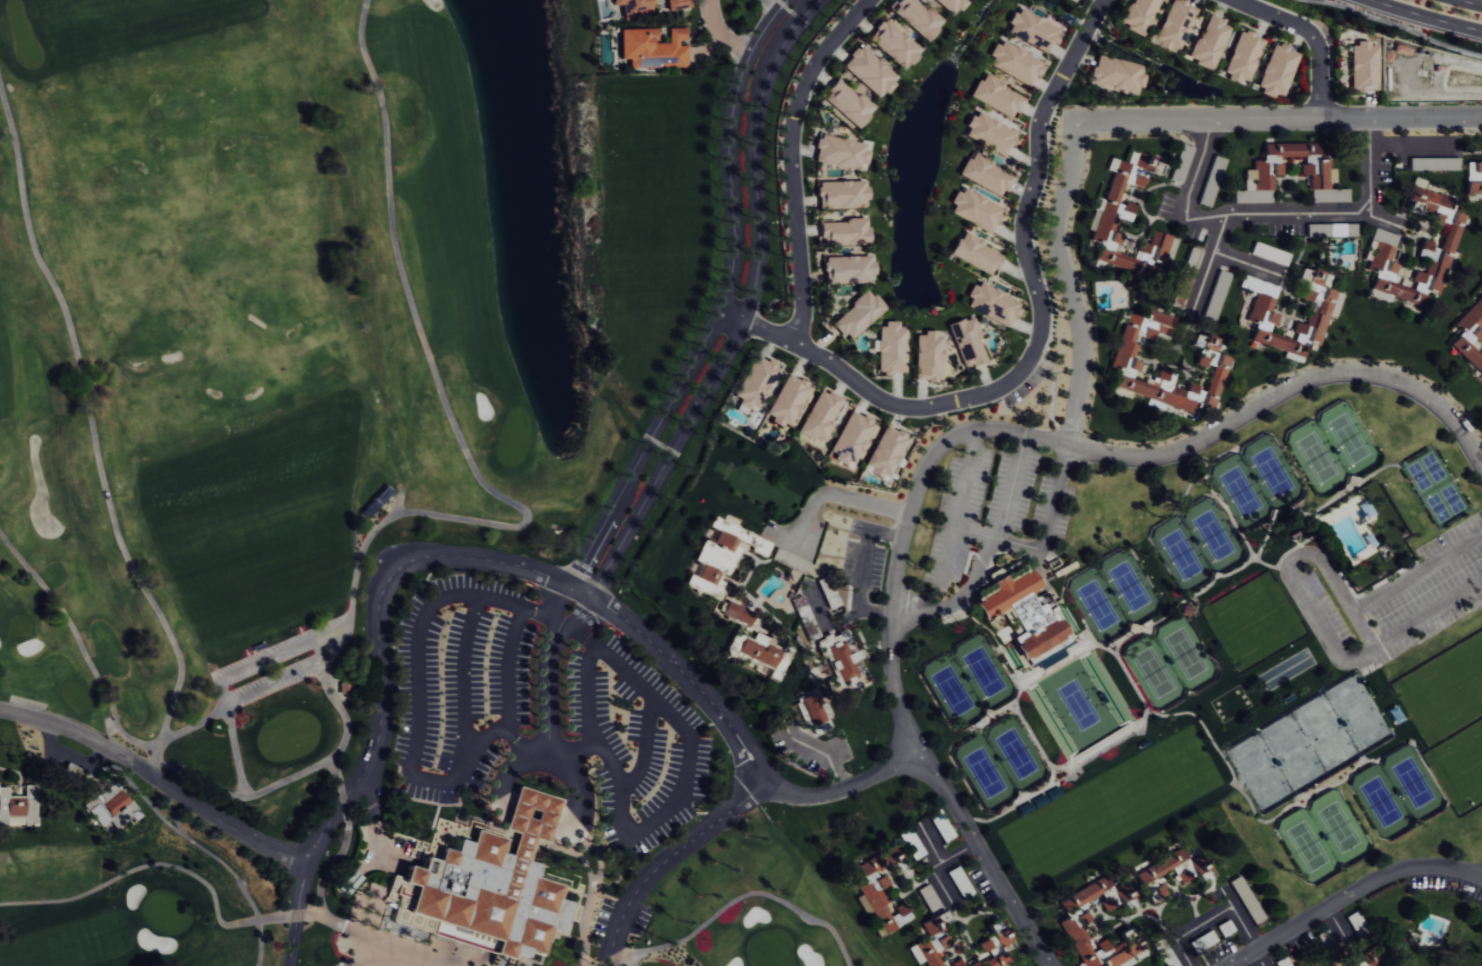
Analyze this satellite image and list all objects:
road: (1471, 2)
building: (676, 4)
building: (949, 5)
building: (633, 7)
building: (1139, 15)
road: (1427, 16)
building: (916, 17)
building: (1174, 24)
building: (1032, 29)
road: (725, 35)
road: (1312, 37)
building: (1209, 42)
building: (892, 43)
building: (652, 48)
building: (1242, 56)
building: (1014, 63)
building: (1363, 67)
building: (1277, 71)
building: (869, 72)
building: (1117, 74)
building: (997, 96)
building: (846, 103)
building: (989, 133)
road: (1409, 143)
building: (839, 152)
road: (791, 161)
building: (1263, 171)
building: (985, 174)
building: (1212, 181)
building: (1474, 181)
building: (841, 194)
building: (975, 209)
road: (1271, 215)
road: (1059, 216)
road: (1384, 217)
building: (1126, 220)
building: (843, 232)
building: (1384, 238)
building: (976, 254)
road: (1210, 262)
road: (1247, 263)
building: (848, 269)
building: (1185, 276)
building: (992, 304)
road: (733, 306)
building: (1262, 314)
building: (857, 315)
park: (214, 320)
building: (1470, 335)
road: (1040, 338)
building: (967, 342)
building: (890, 348)
park: (271, 352)
building: (928, 356)
building: (1211, 360)
building: (755, 382)
road: (1287, 390)
building: (787, 400)
building: (820, 415)
building: (851, 438)
park: (1333, 450)
building: (885, 451)
road: (928, 462)
park: (1256, 481)
road: (1012, 486)
park: (1437, 488)
road: (839, 495)
road: (958, 508)
road: (996, 537)
park: (1198, 545)
building: (716, 554)
building: (790, 560)
road: (862, 569)
road: (972, 574)
road: (1294, 587)
park: (1114, 596)
building: (737, 613)
building: (1021, 613)
road: (376, 617)
road: (1359, 617)
park: (1255, 622)
road: (509, 644)
building: (758, 652)
building: (841, 660)
park: (1171, 661)
road: (549, 664)
road: (589, 674)
road: (464, 675)
road: (686, 676)
road: (890, 682)
park: (968, 682)
building: (834, 684)
park: (1445, 693)
parking lot: (553, 701)
road: (417, 706)
stadium: (1081, 707)
building: (811, 709)
park: (286, 733)
road: (516, 738)
park: (1309, 743)
road: (644, 746)
road: (579, 752)
park: (1002, 763)
road: (508, 767)
park: (1460, 768)
building: (71, 775)
road: (159, 779)
road: (683, 781)
park: (1398, 793)
building: (104, 804)
park: (1110, 808)
building: (12, 810)
road: (731, 811)
park: (1325, 837)
road: (984, 857)
road: (943, 859)
building: (1172, 867)
road: (943, 880)
building: (486, 886)
building: (870, 892)
building: (1118, 894)
road: (1352, 896)
building: (1248, 900)
park: (757, 908)
road: (298, 912)
park: (167, 913)
park: (162, 916)
road: (1239, 919)
road: (1189, 930)
road: (371, 935)
building: (934, 943)
building: (994, 949)
road: (386, 953)
building: (1367, 958)
road: (1258, 959)
road: (604, 963)

